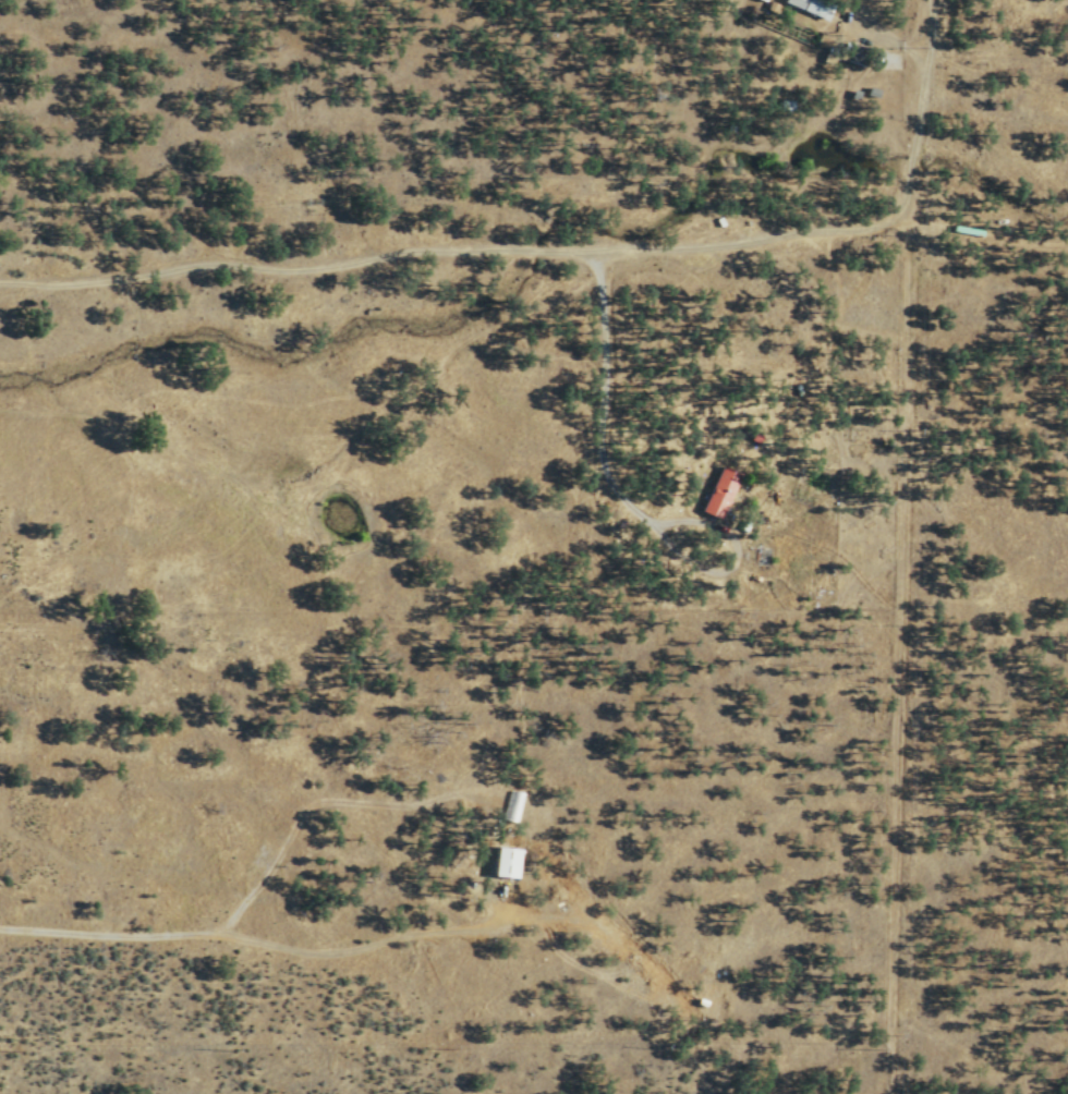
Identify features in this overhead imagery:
building: (811, 7)
road: (450, 269)
building: (720, 493)
building: (506, 863)

